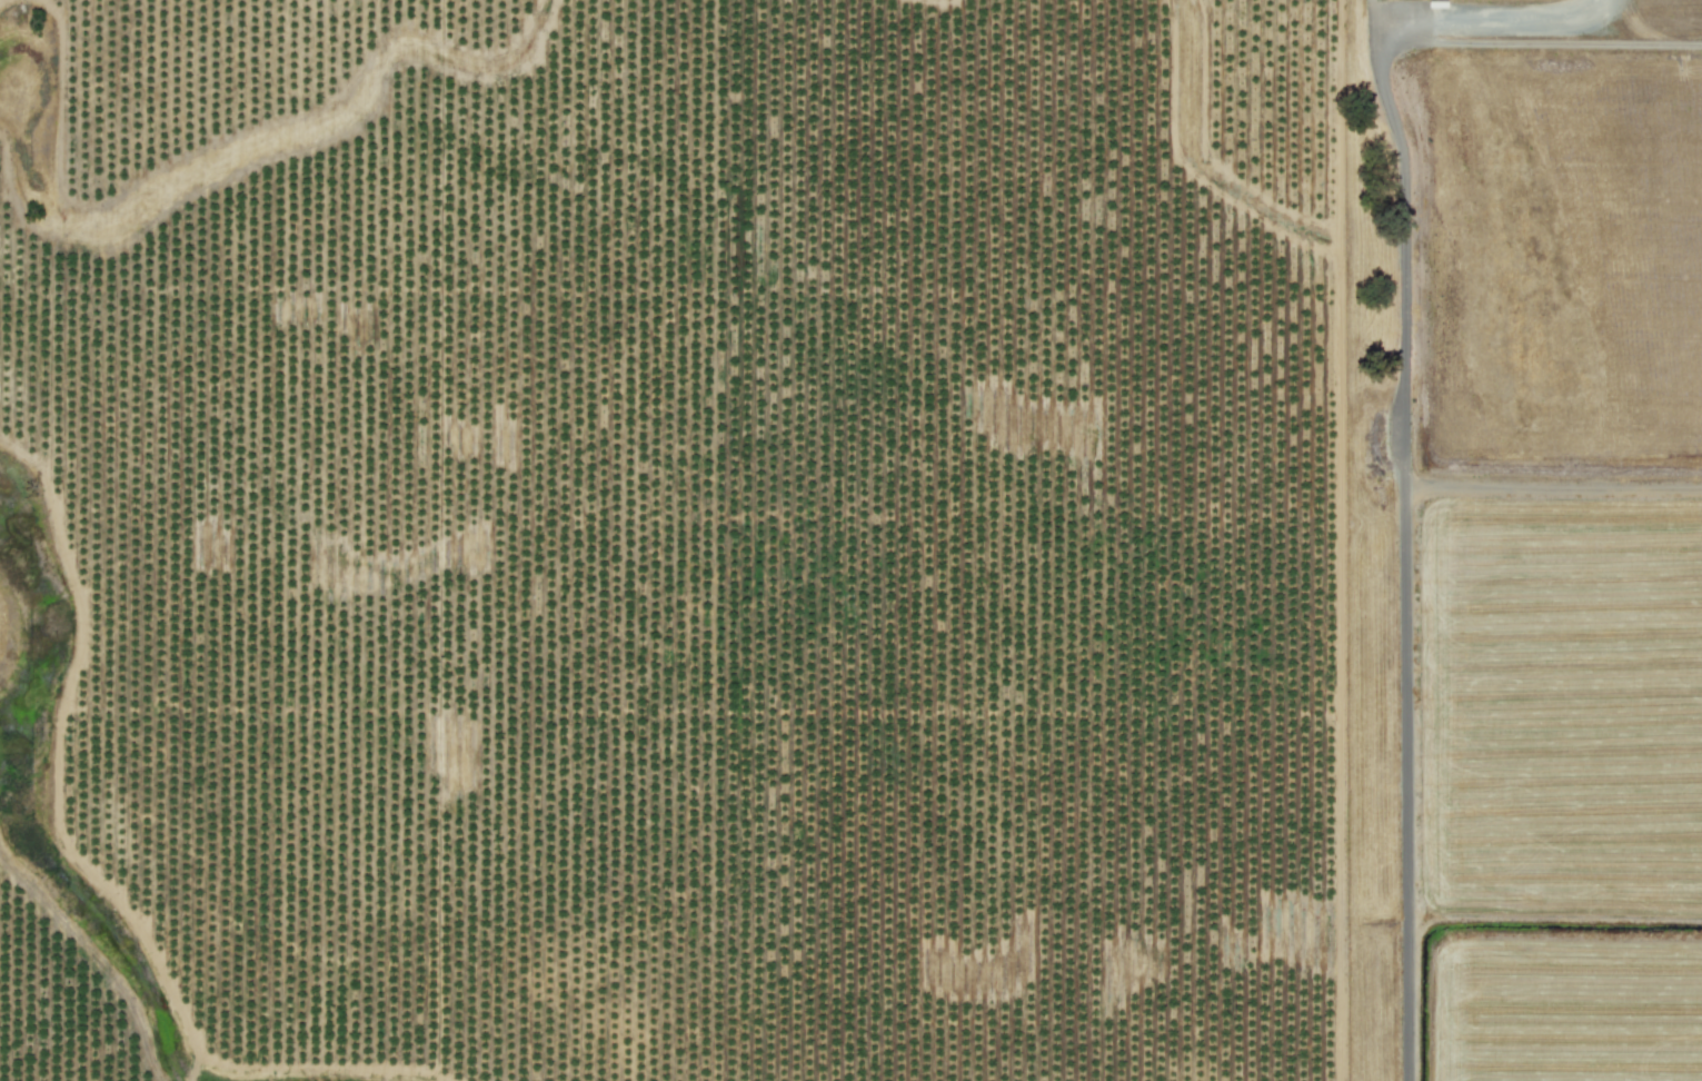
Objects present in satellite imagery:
road: (1484, 19)
road: (1552, 42)
road: (1552, 486)
road: (1402, 538)

